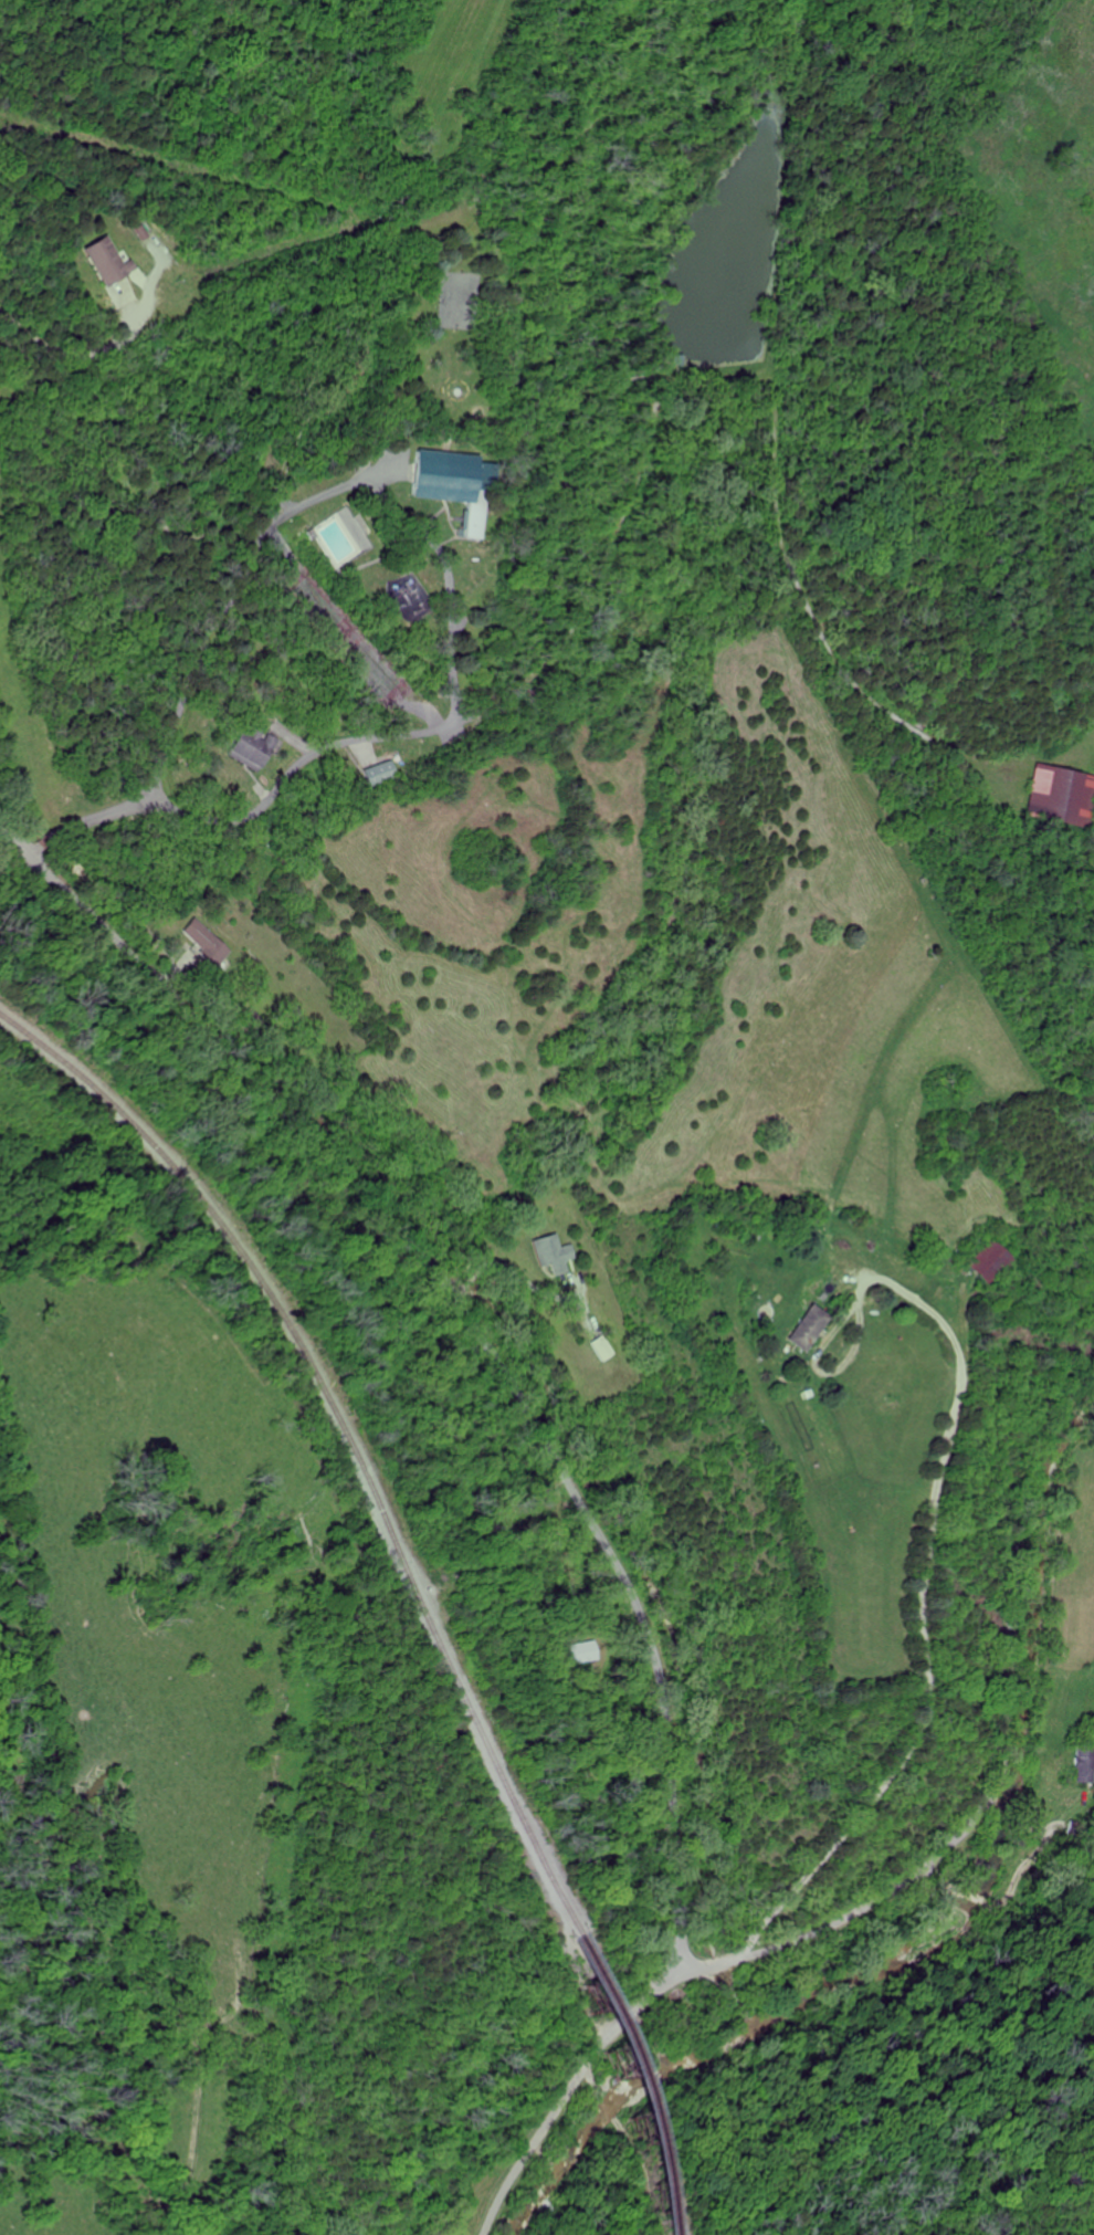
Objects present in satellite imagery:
building: (106, 261)
road: (88, 351)
building: (445, 483)
road: (196, 663)
road: (421, 732)
building: (251, 747)
building: (379, 773)
building: (1053, 797)
building: (206, 943)
building: (553, 1253)
building: (982, 1262)
road: (514, 1270)
building: (807, 1329)
road: (478, 1333)
building: (602, 1349)
railway: (341, 1427)
road: (898, 1628)
road: (902, 1885)
railway: (602, 2082)

